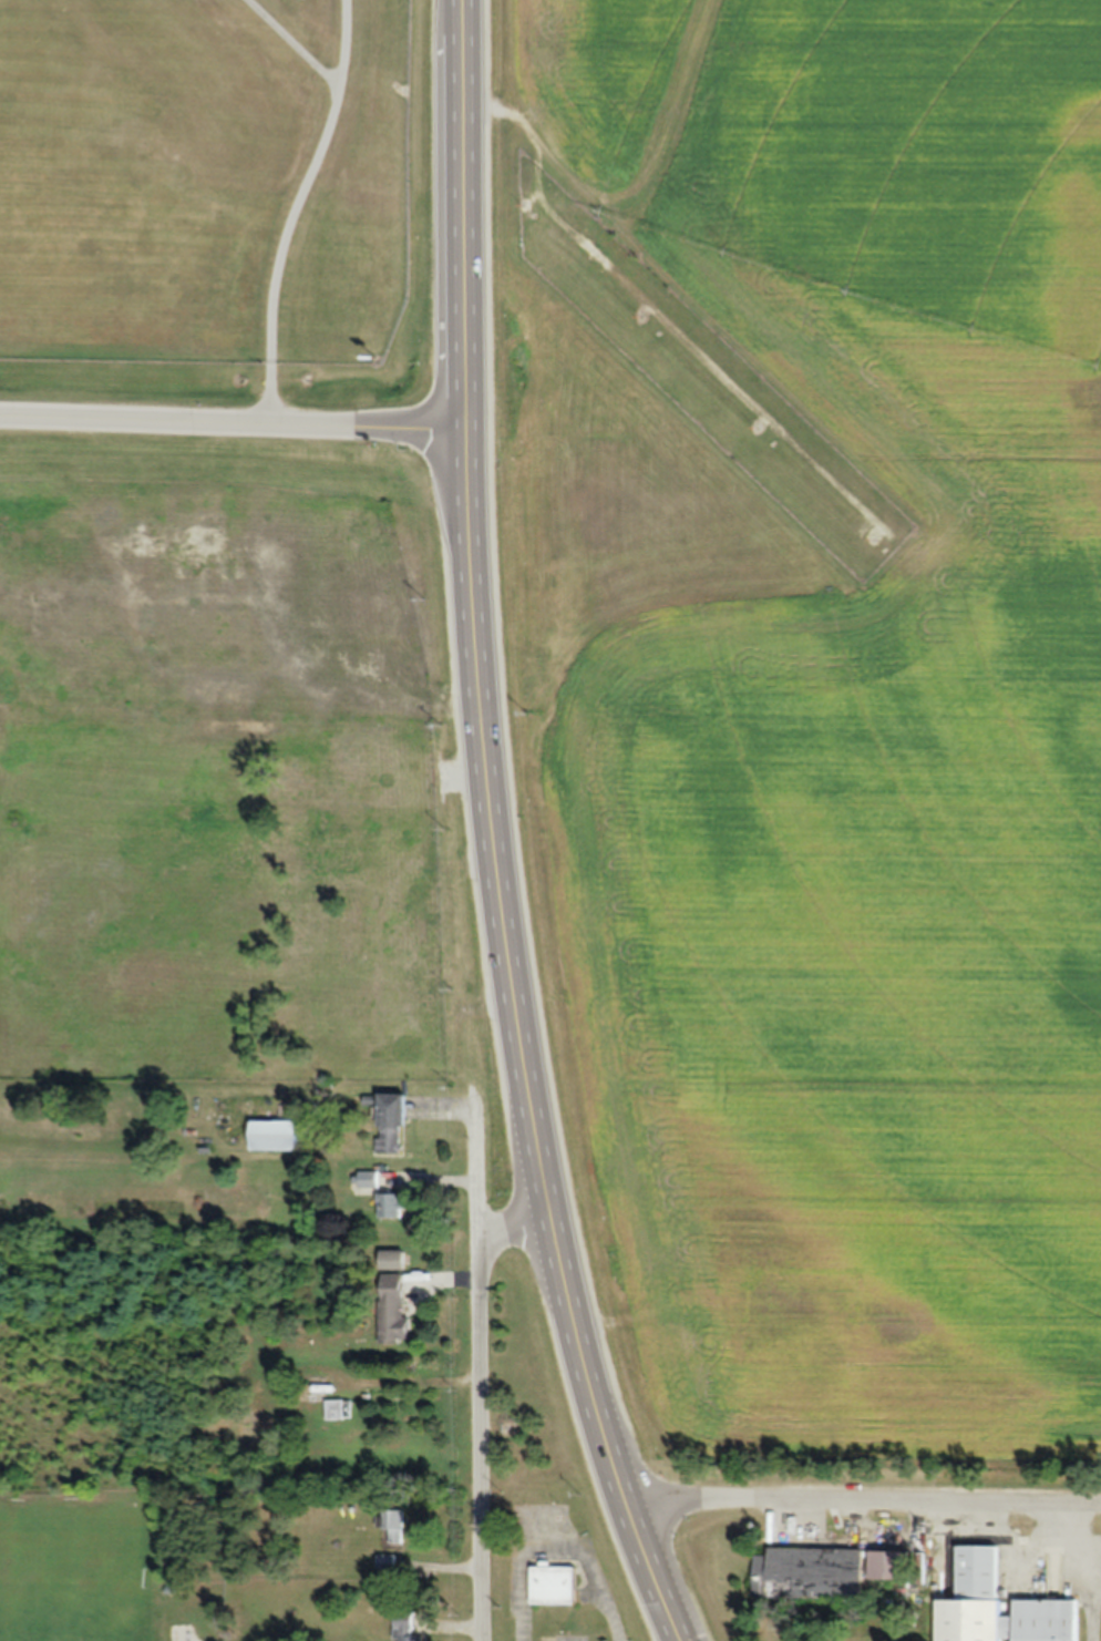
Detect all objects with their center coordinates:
road: (294, 43)
airport: (216, 203)
road: (295, 211)
road: (234, 427)
crop: (810, 710)
road: (497, 831)
building: (391, 1120)
building: (276, 1135)
building: (369, 1179)
building: (392, 1204)
road: (517, 1233)
building: (393, 1260)
building: (393, 1307)
road: (477, 1363)
building: (339, 1409)
road: (864, 1505)
building: (394, 1525)
road: (1015, 1538)
building: (889, 1565)
building: (810, 1573)
road: (1076, 1577)
building: (554, 1584)
building: (999, 1607)
building: (408, 1629)

